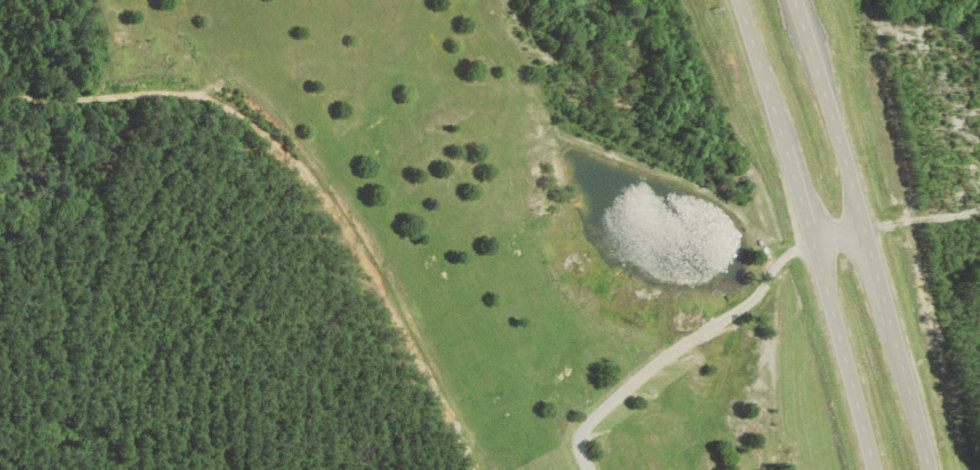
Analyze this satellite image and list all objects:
road: (297, 184)
road: (918, 225)
road: (851, 231)
road: (793, 233)
road: (699, 333)

